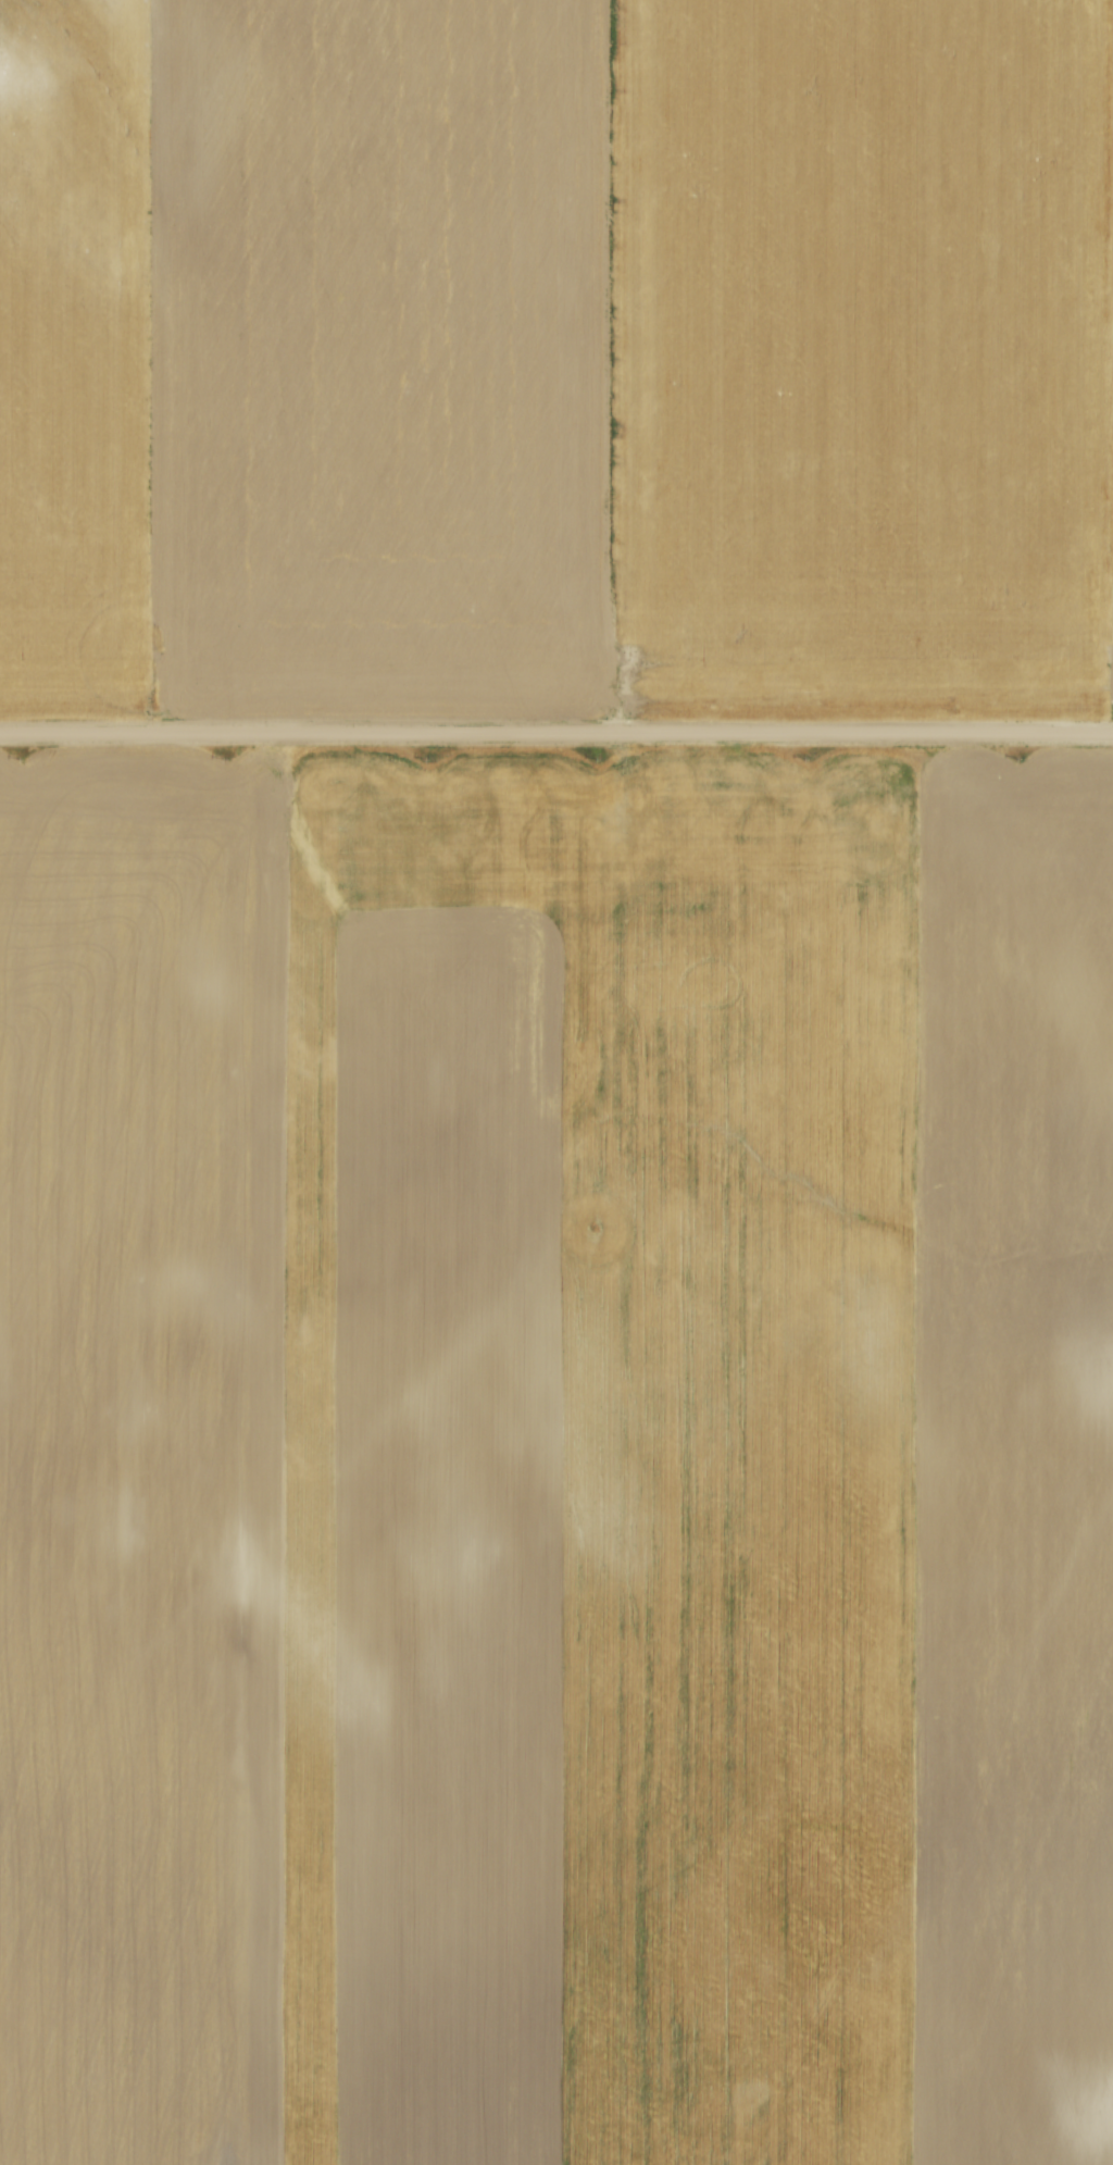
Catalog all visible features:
crop: (556, 357)
road: (555, 736)
crop: (556, 1461)

